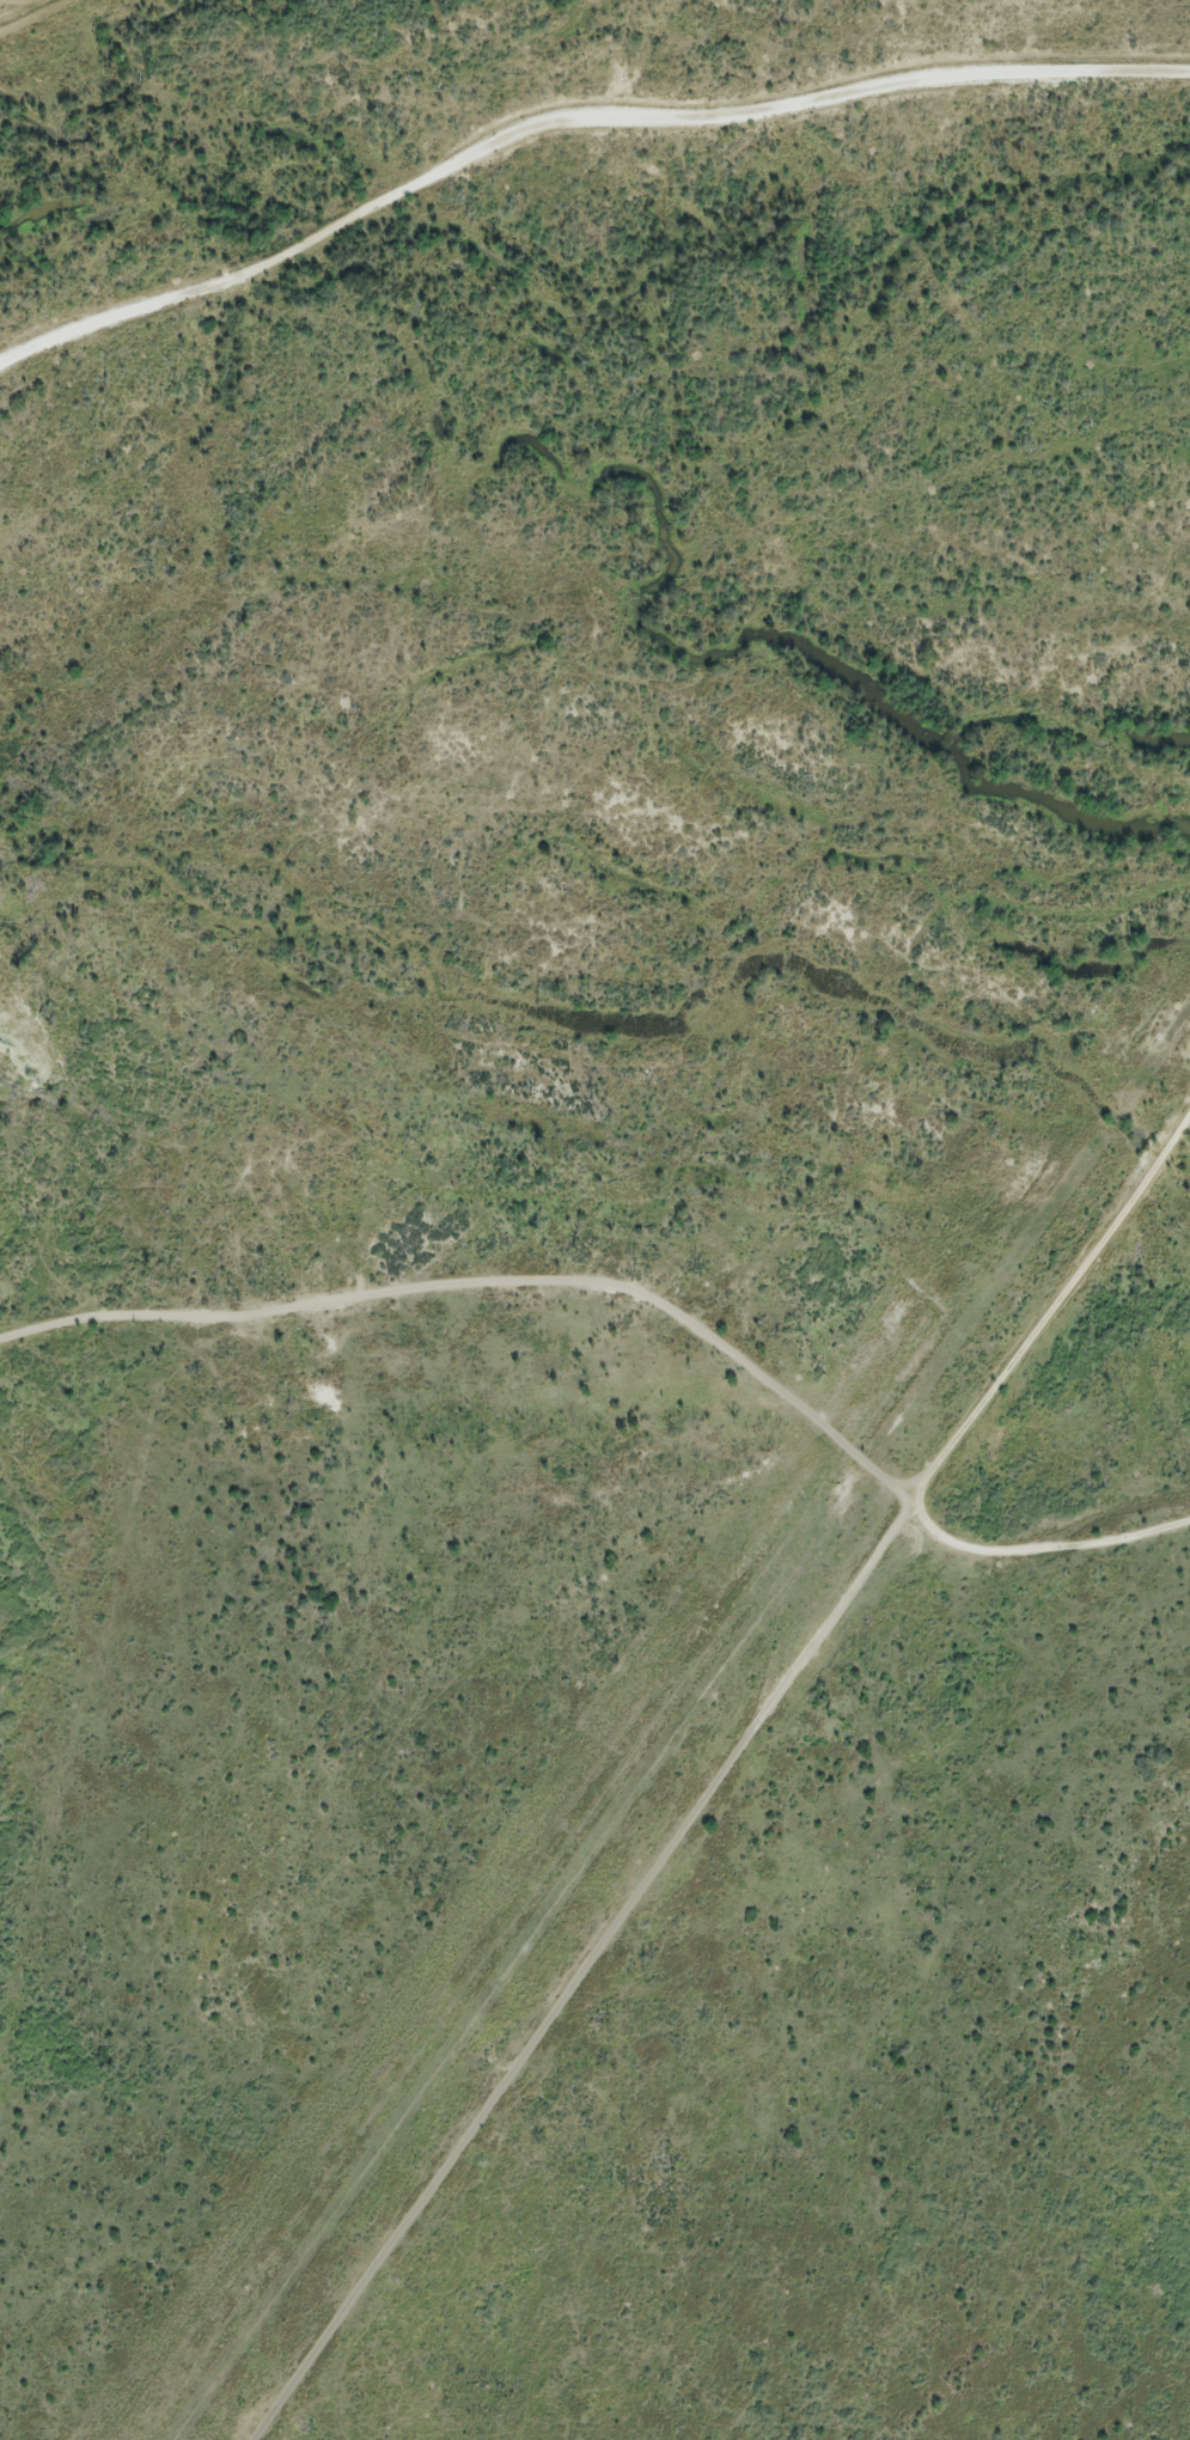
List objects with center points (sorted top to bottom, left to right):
road: (569, 118)
road: (956, 1439)

